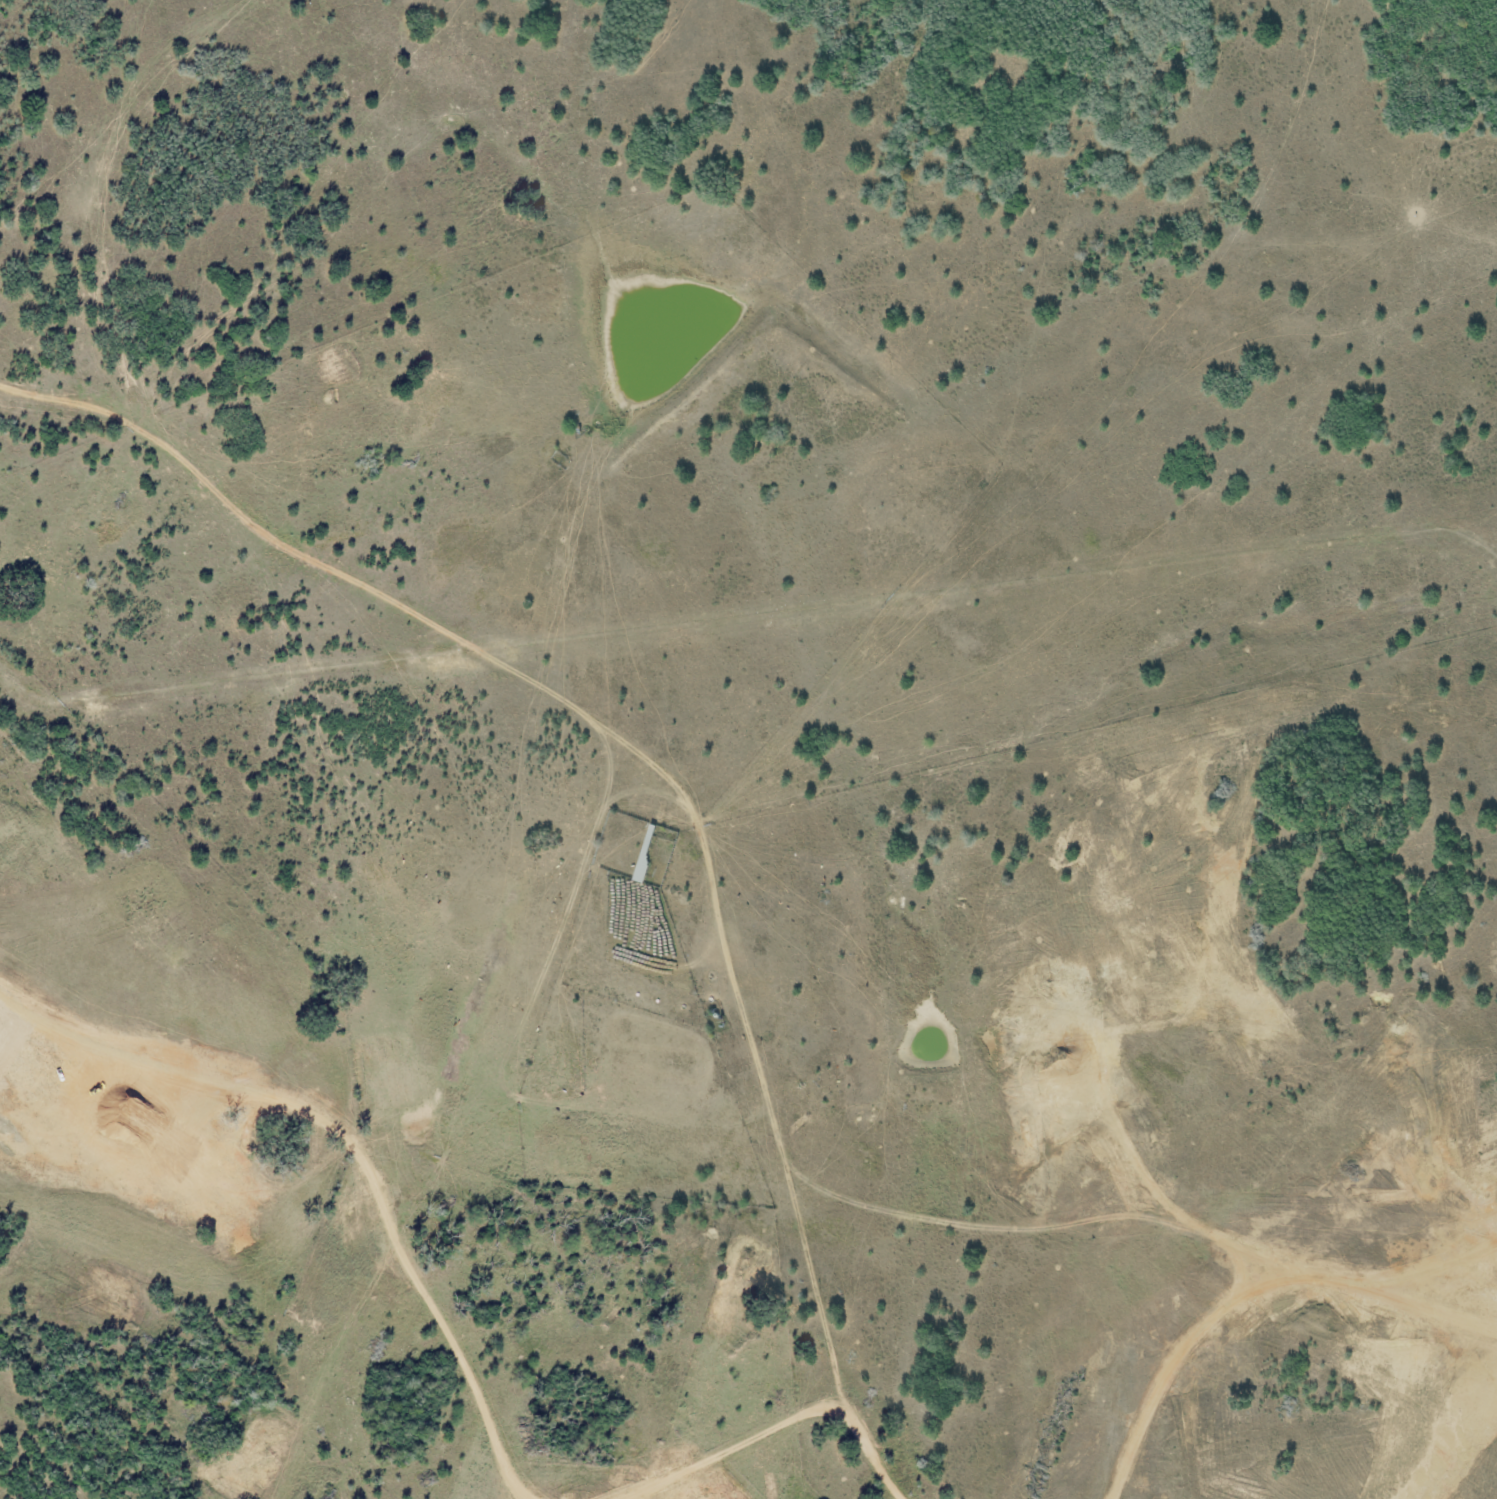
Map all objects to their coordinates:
road: (599, 817)

